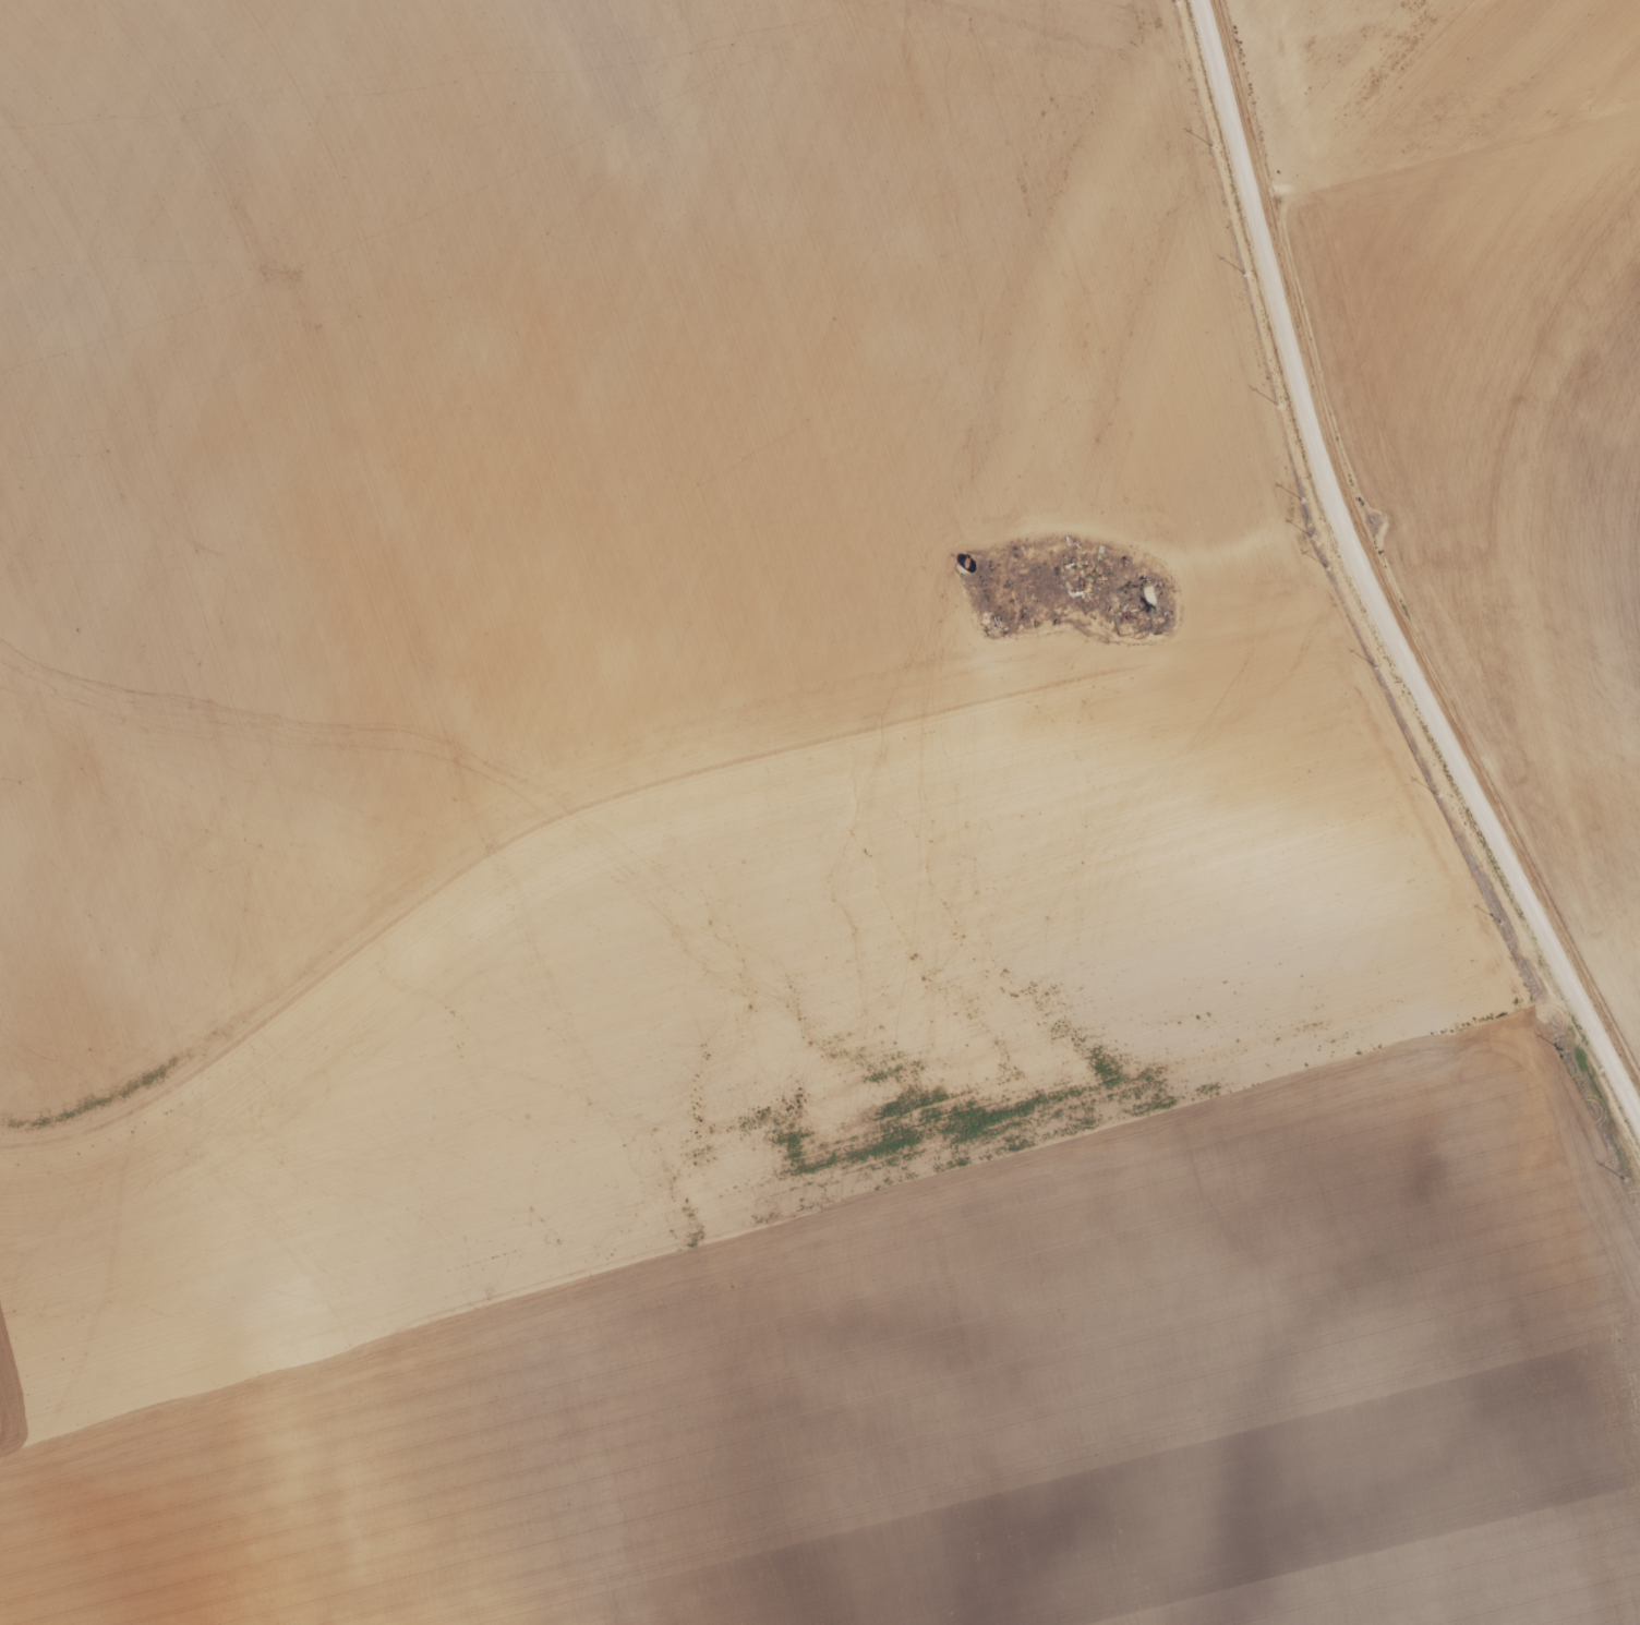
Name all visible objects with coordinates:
building: (1075, 576)
road: (1367, 612)

